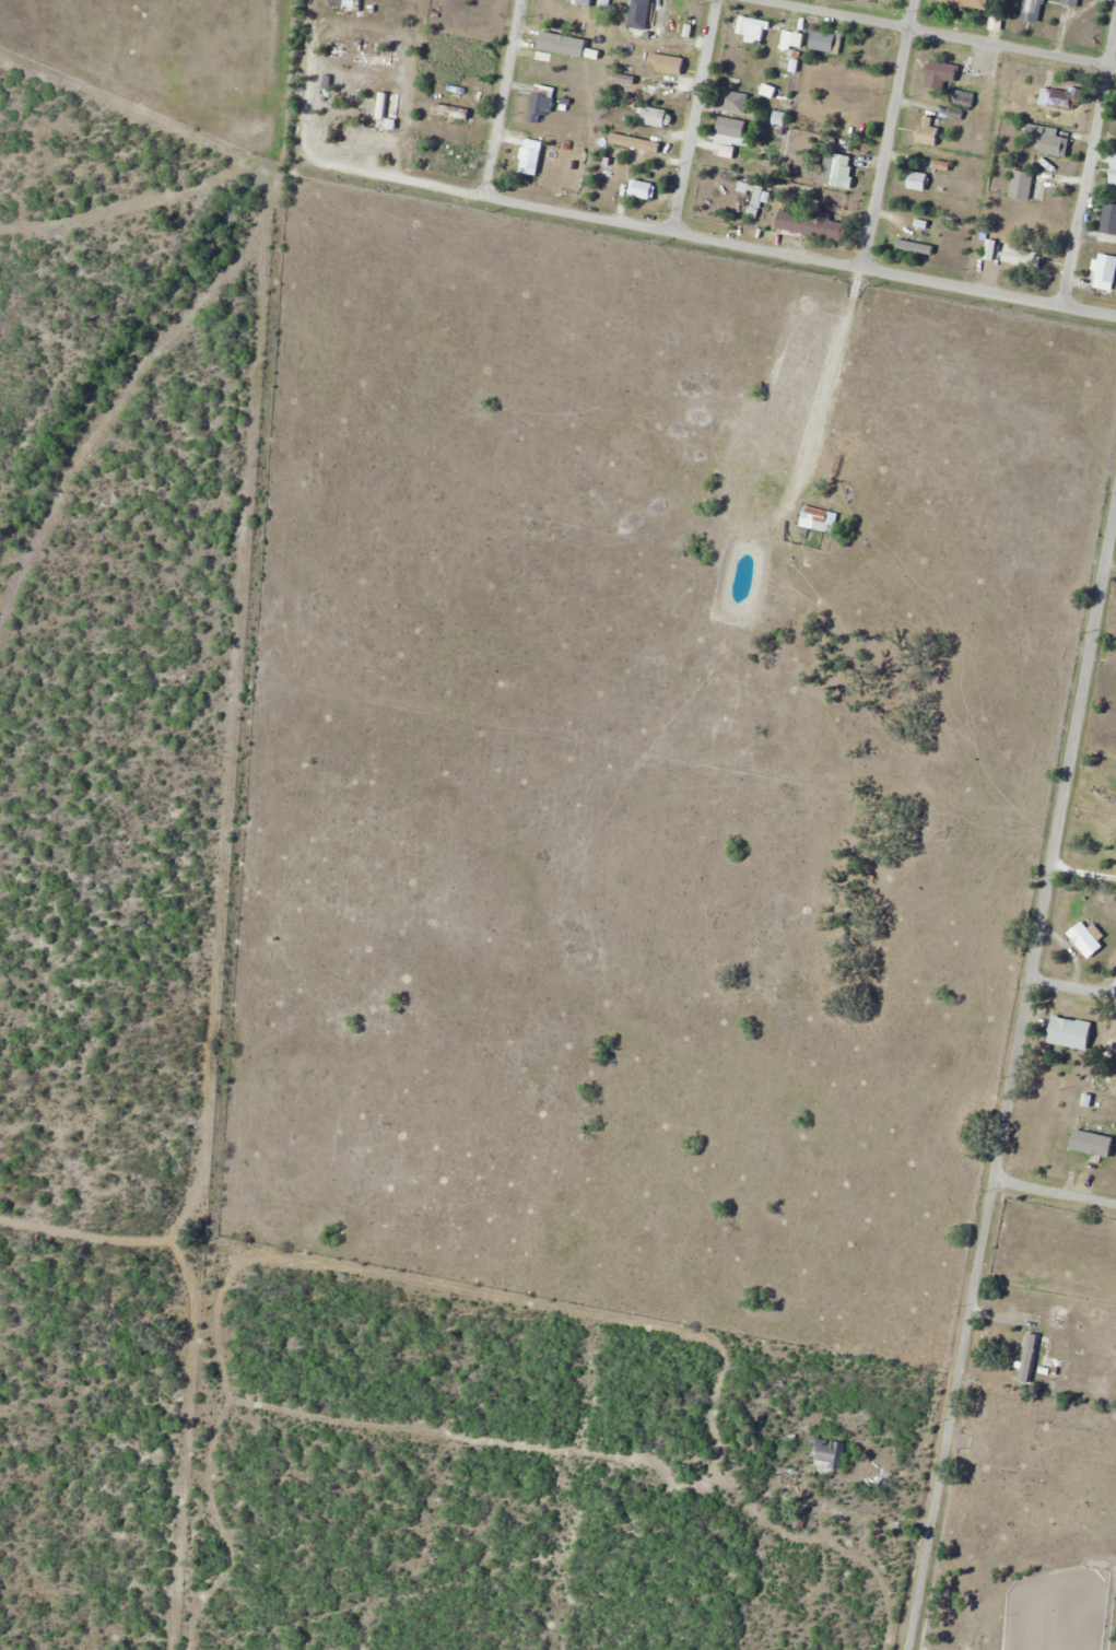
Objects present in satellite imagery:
building: (578, 2)
building: (1071, 2)
building: (967, 3)
building: (345, 4)
building: (649, 10)
building: (1033, 10)
building: (753, 30)
road: (940, 33)
building: (795, 37)
building: (827, 40)
building: (542, 59)
building: (667, 63)
building: (943, 73)
building: (856, 93)
road: (504, 96)
building: (965, 98)
building: (1054, 98)
building: (735, 102)
building: (541, 105)
building: (451, 112)
road: (697, 114)
building: (658, 117)
building: (732, 130)
building: (929, 131)
road: (883, 132)
building: (1048, 140)
building: (636, 143)
building: (530, 156)
road: (1089, 160)
building: (638, 165)
building: (837, 169)
building: (1113, 172)
building: (918, 180)
building: (1023, 182)
building: (643, 190)
building: (752, 198)
building: (1108, 219)
building: (811, 224)
road: (673, 227)
building: (911, 243)
building: (988, 249)
building: (1010, 256)
building: (1100, 267)
road: (829, 386)
building: (819, 518)
building: (1086, 939)
road: (1073, 985)
building: (1061, 1031)
road: (1011, 1081)
building: (1062, 1149)
road: (1055, 1191)
building: (1029, 1355)
building: (827, 1453)

